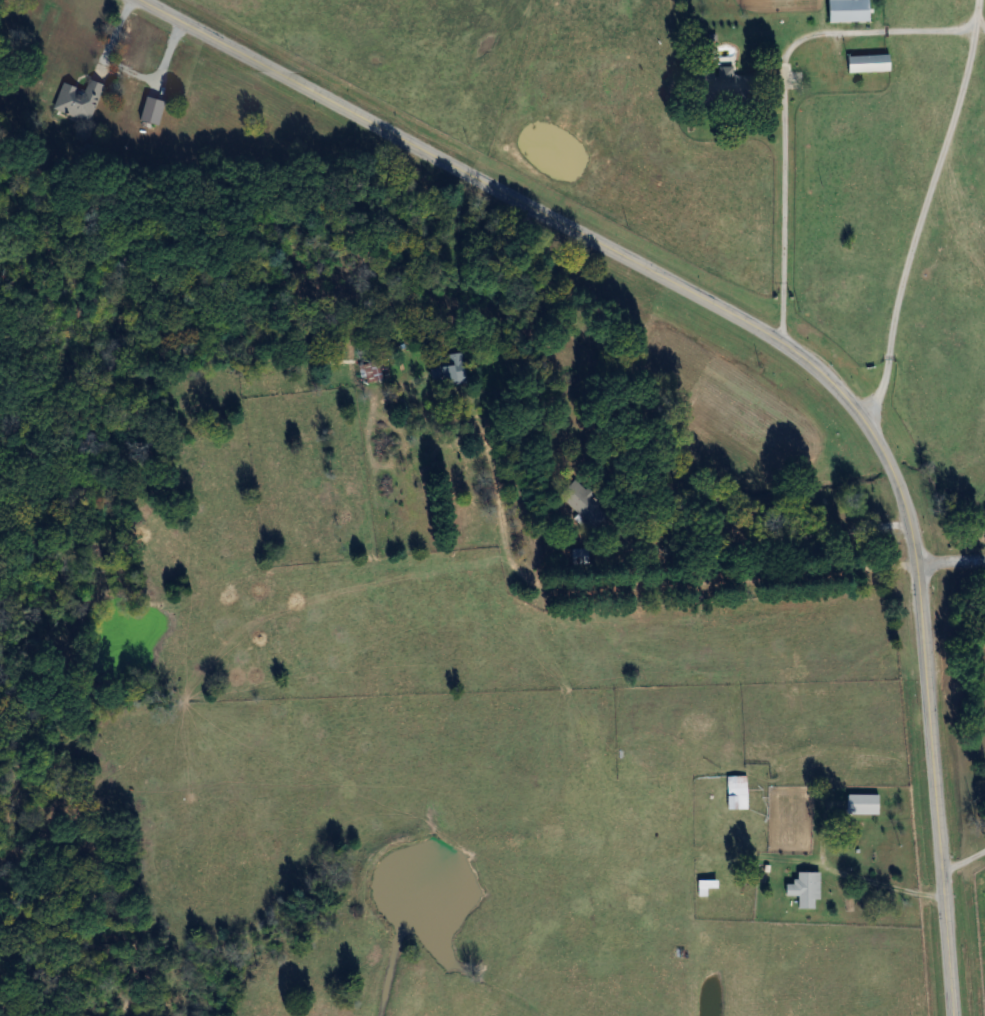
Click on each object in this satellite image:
building: (844, 12)
road: (971, 17)
road: (930, 32)
building: (865, 65)
building: (719, 86)
building: (77, 102)
road: (779, 342)
building: (449, 373)
road: (736, 490)
building: (586, 505)
building: (581, 554)
road: (952, 564)
building: (644, 789)
building: (735, 795)
building: (860, 806)
road: (964, 862)
building: (704, 889)
building: (799, 896)

